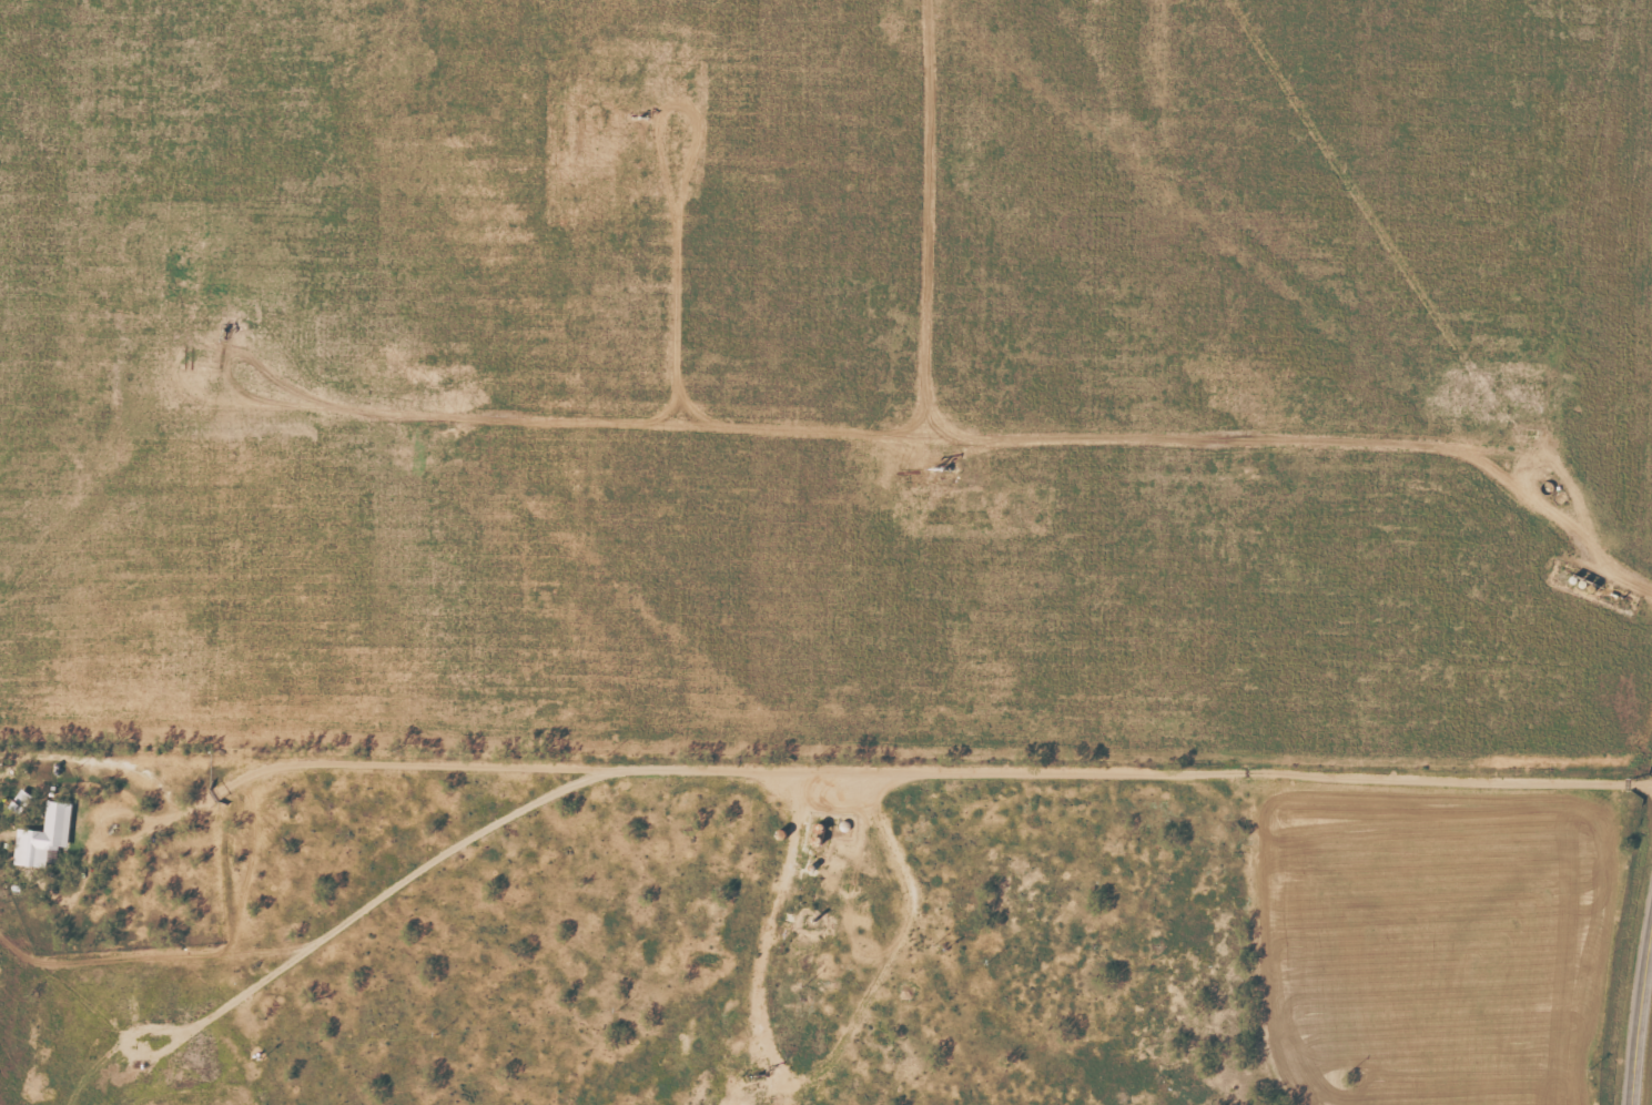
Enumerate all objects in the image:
road: (825, 763)
road: (991, 1015)
road: (1640, 1023)

